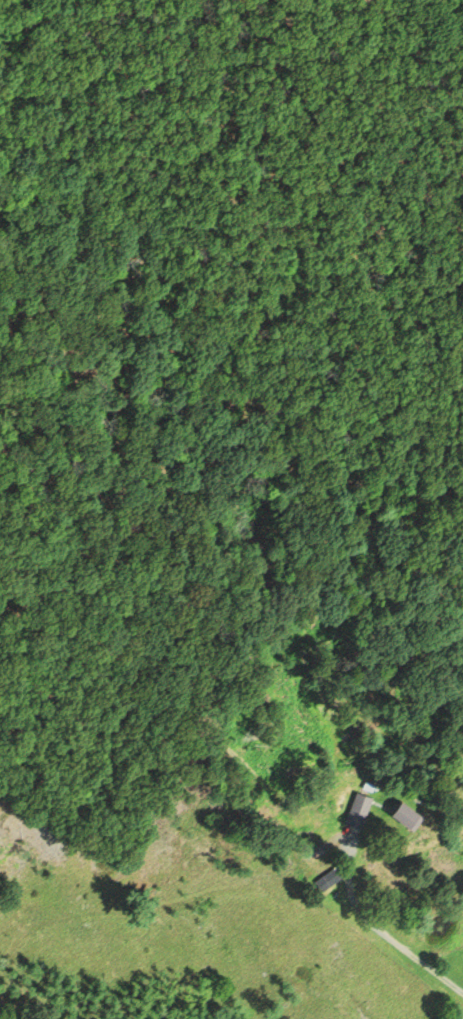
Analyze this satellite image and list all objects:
building: (359, 809)
building: (413, 816)
road: (376, 925)

